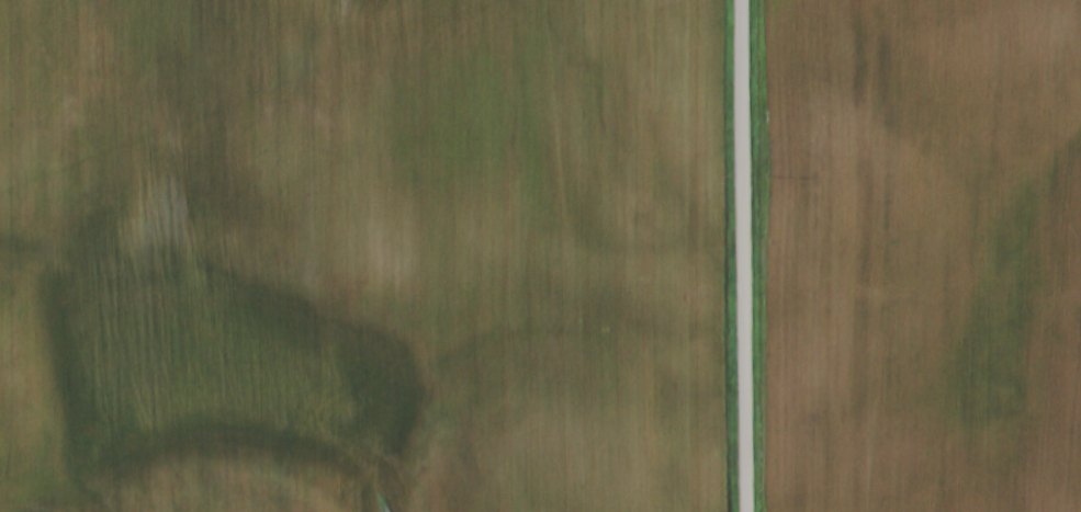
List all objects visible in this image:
road: (746, 255)

